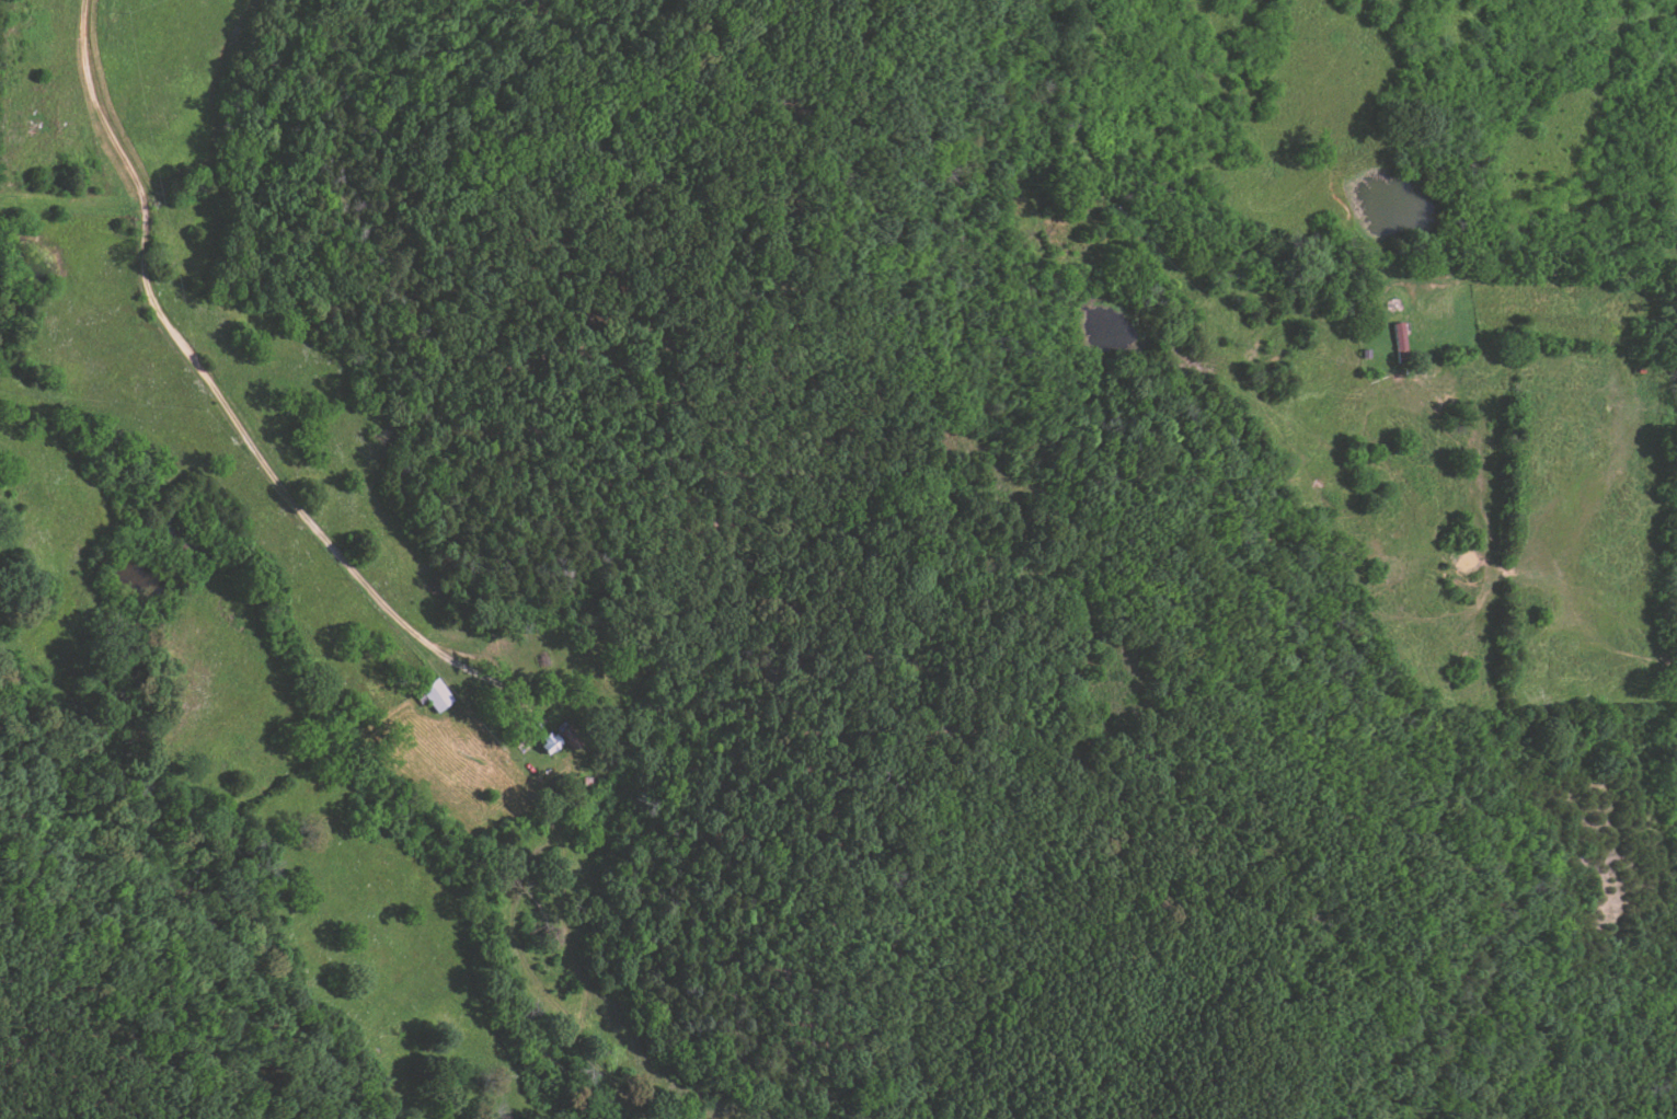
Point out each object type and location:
road: (923, 226)
building: (1399, 341)
road: (200, 373)
road: (927, 657)
building: (435, 695)
building: (549, 743)

